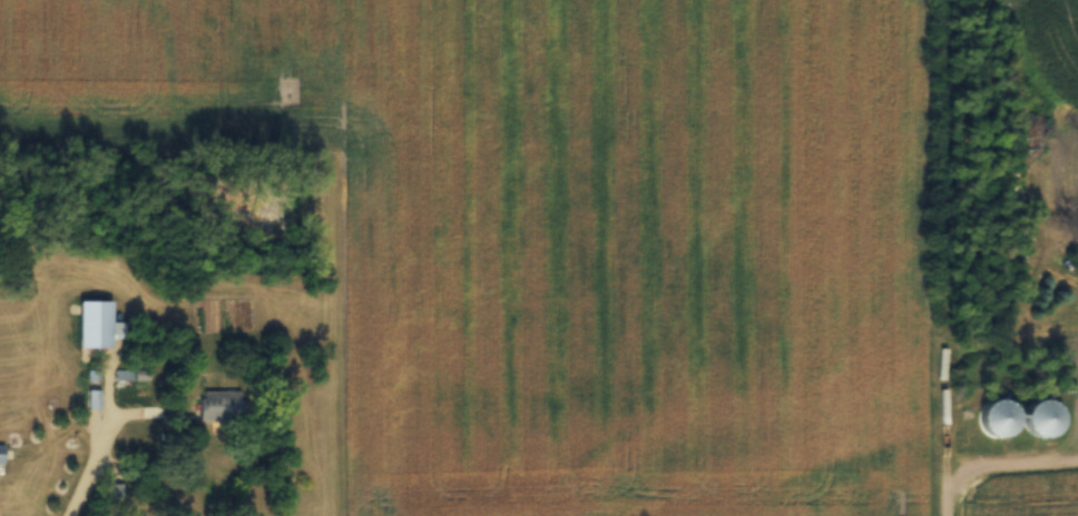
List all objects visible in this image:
crop: (579, 232)
building: (98, 324)
building: (121, 373)
building: (88, 396)
building: (218, 404)
building: (2, 455)
road: (994, 460)

